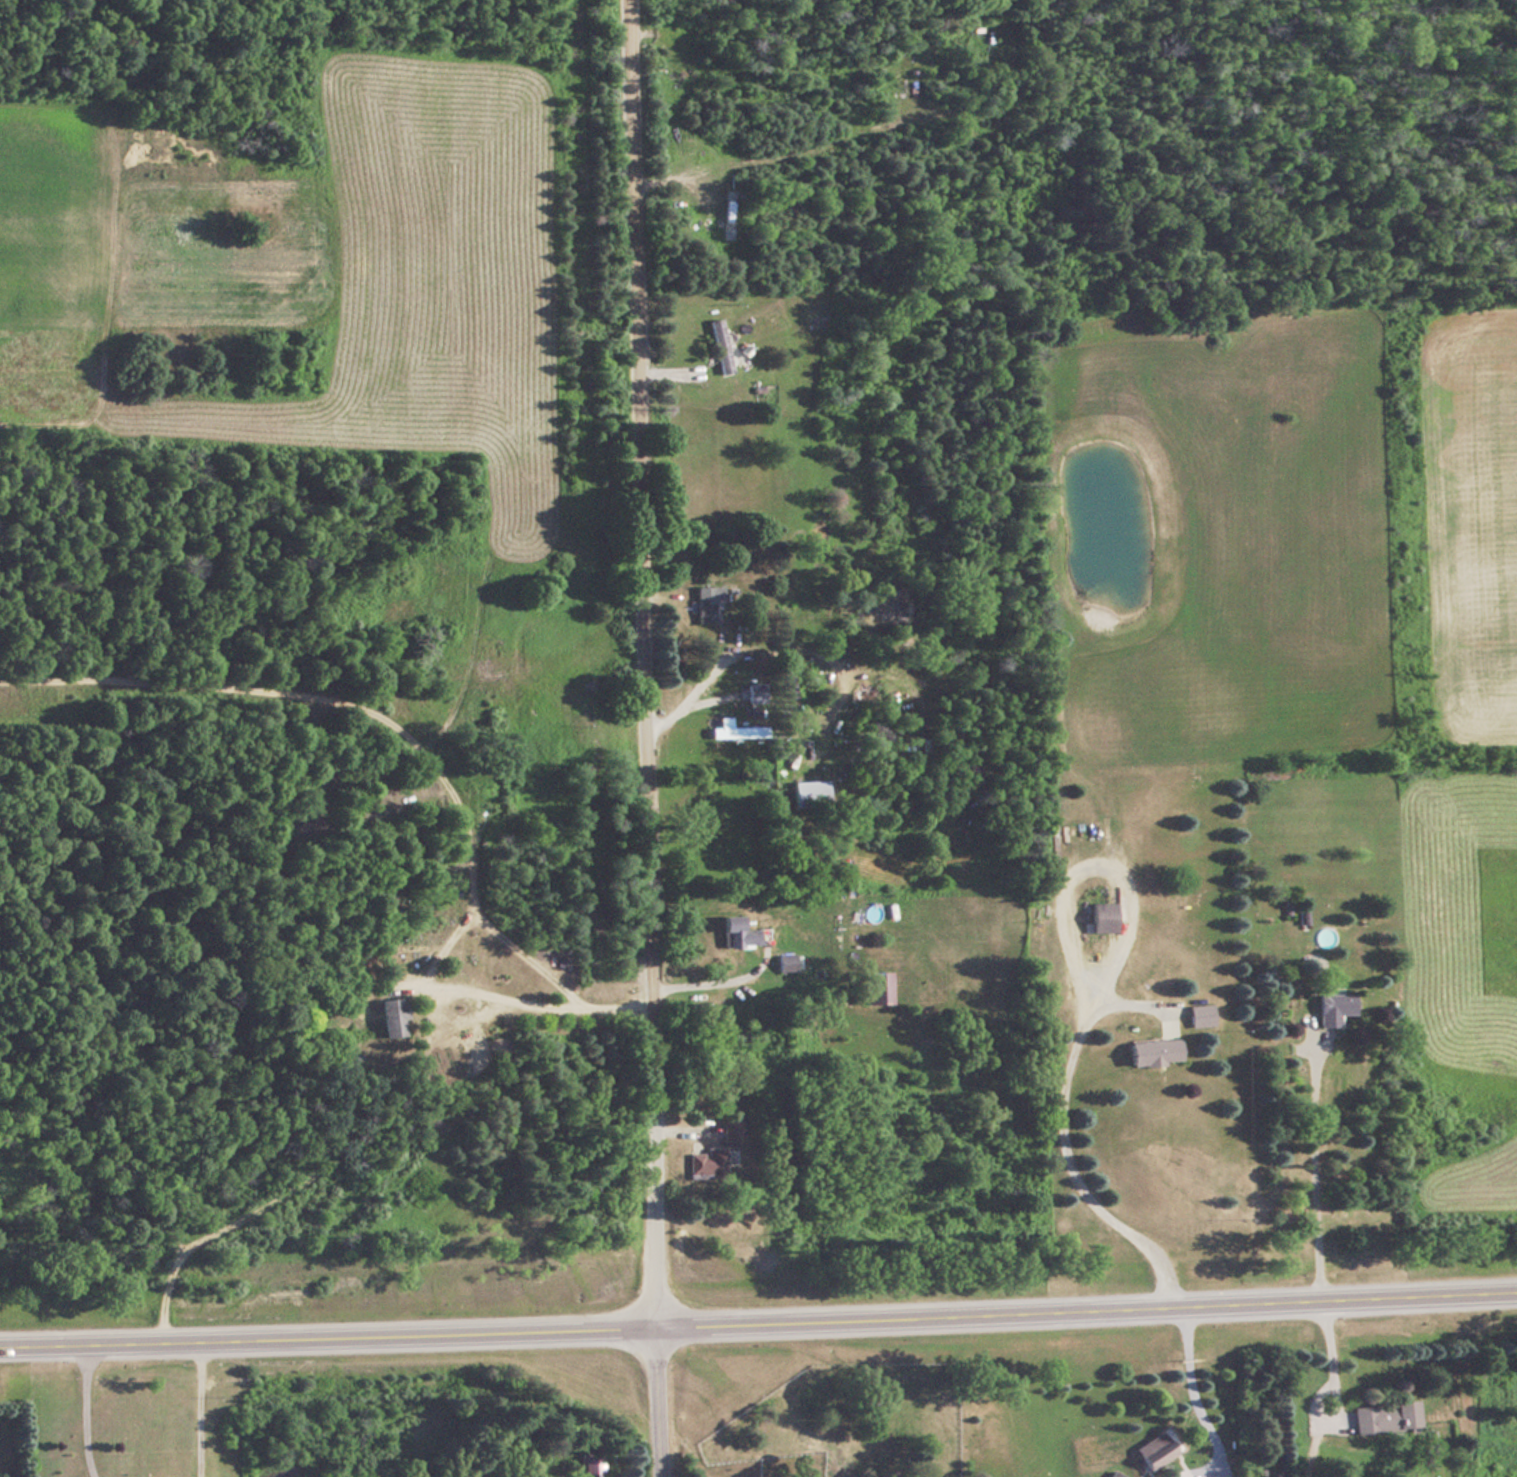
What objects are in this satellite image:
building: (990, 38)
building: (719, 346)
building: (705, 602)
building: (754, 693)
building: (733, 731)
road: (646, 738)
building: (808, 794)
building: (1099, 917)
building: (734, 933)
building: (783, 963)
road: (716, 981)
building: (873, 989)
road: (532, 1005)
building: (1330, 1009)
building: (1197, 1012)
building: (391, 1018)
building: (1152, 1052)
road: (1058, 1130)
building: (730, 1134)
road: (1308, 1162)
building: (705, 1164)
road: (758, 1326)
road: (1329, 1360)
road: (1196, 1408)
building: (1382, 1417)
building: (1152, 1450)
building: (588, 1466)
building: (1113, 1474)

